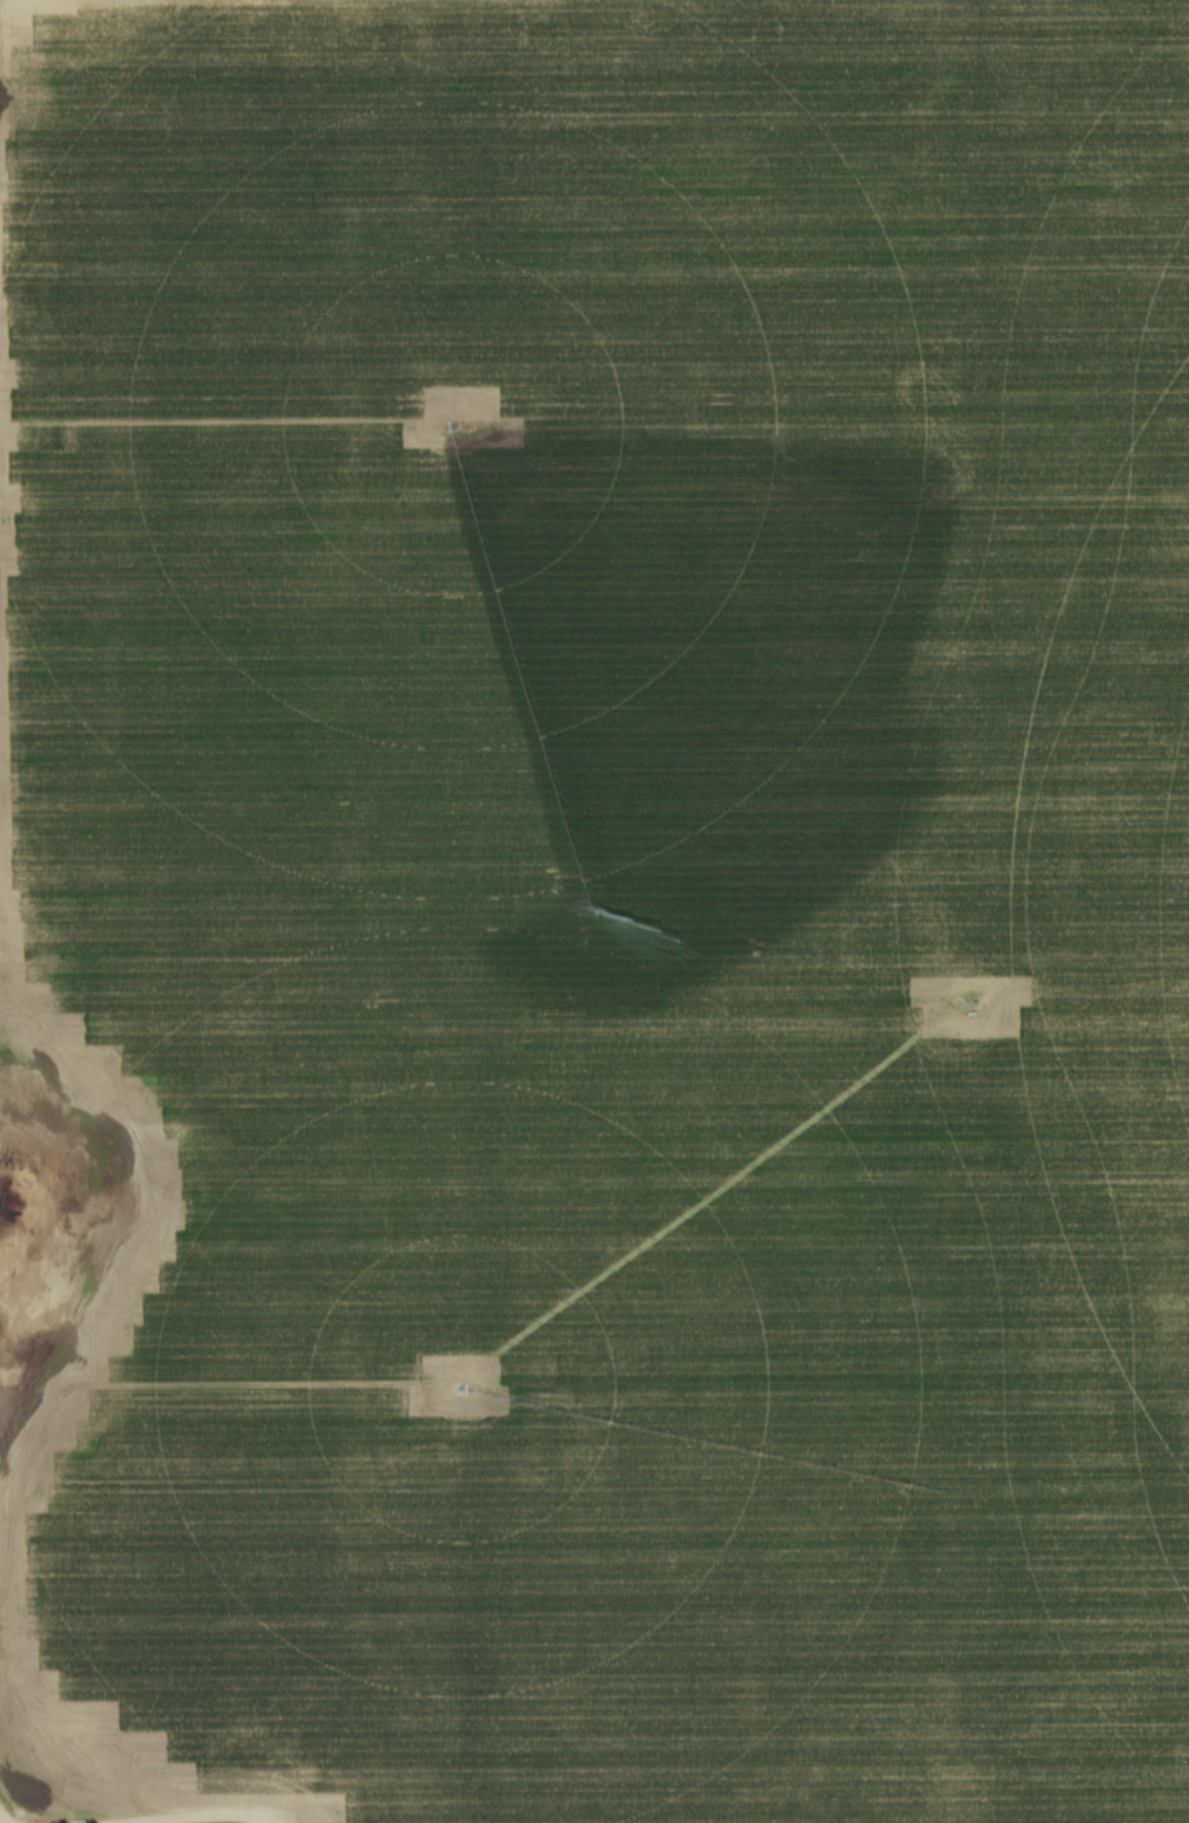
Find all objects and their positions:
crop: (598, 907)

